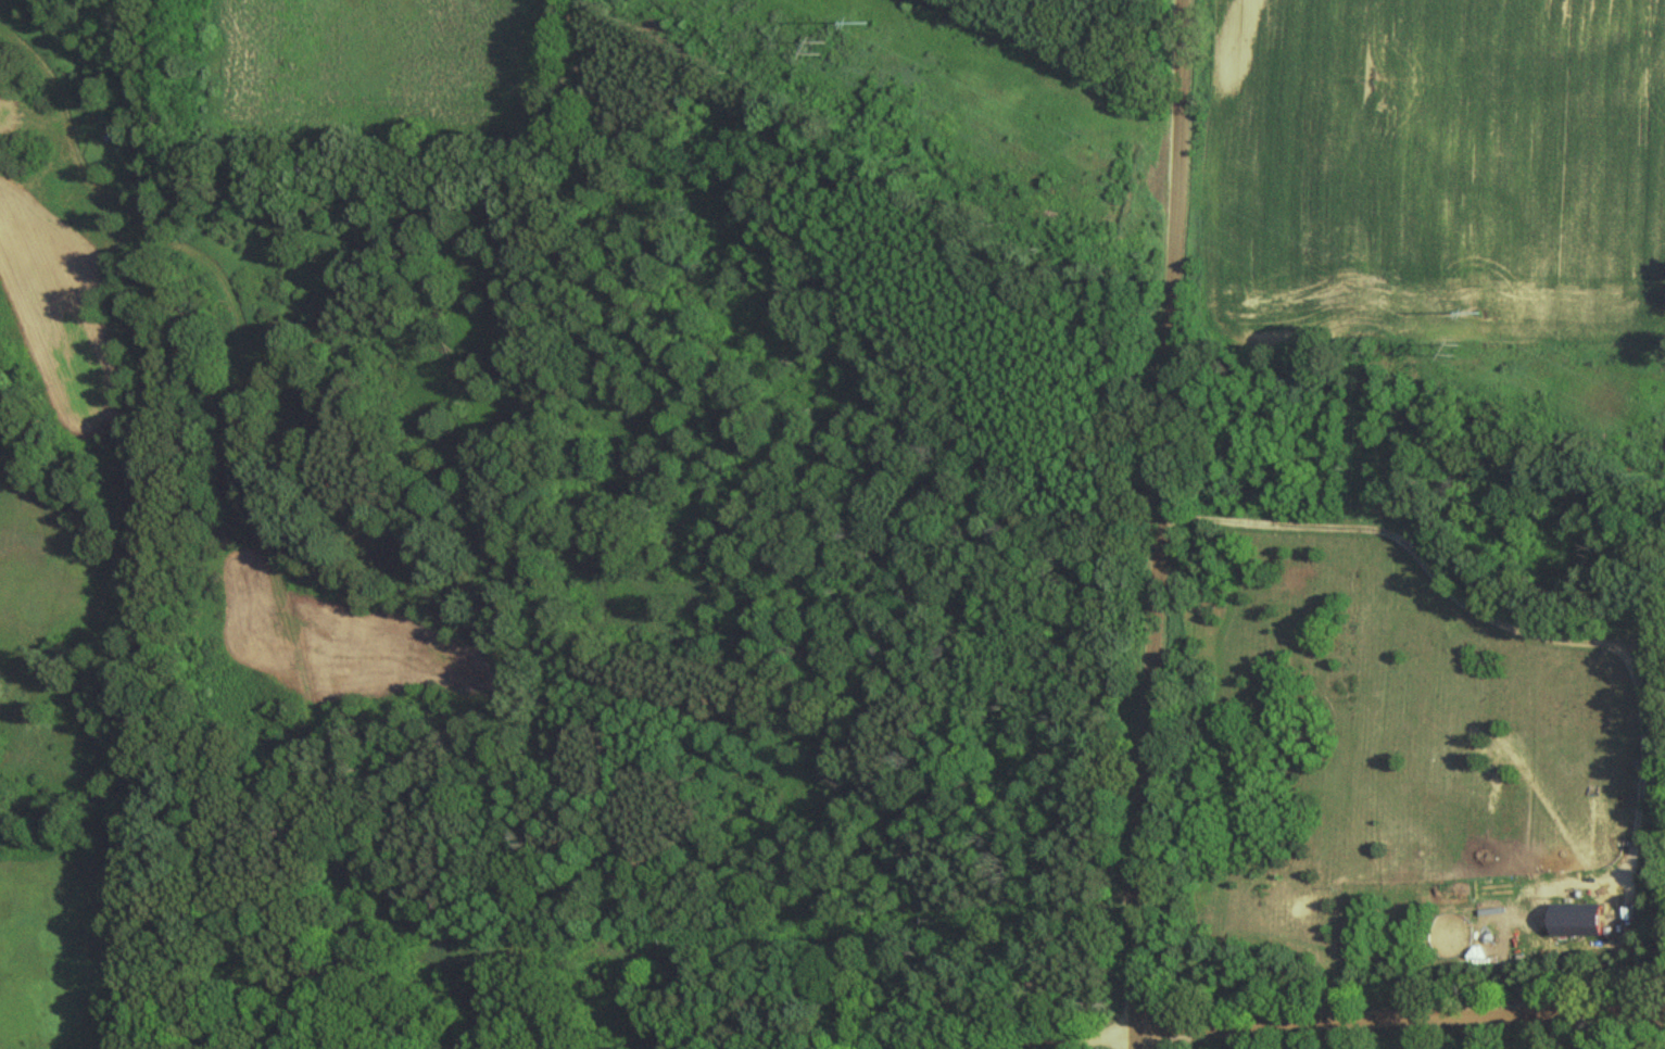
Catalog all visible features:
power tower: (867, 15)
power tower: (831, 51)
power tower: (1483, 315)
power tower: (1461, 353)
road: (1155, 524)
road: (1397, 1012)
road: (1059, 1039)

